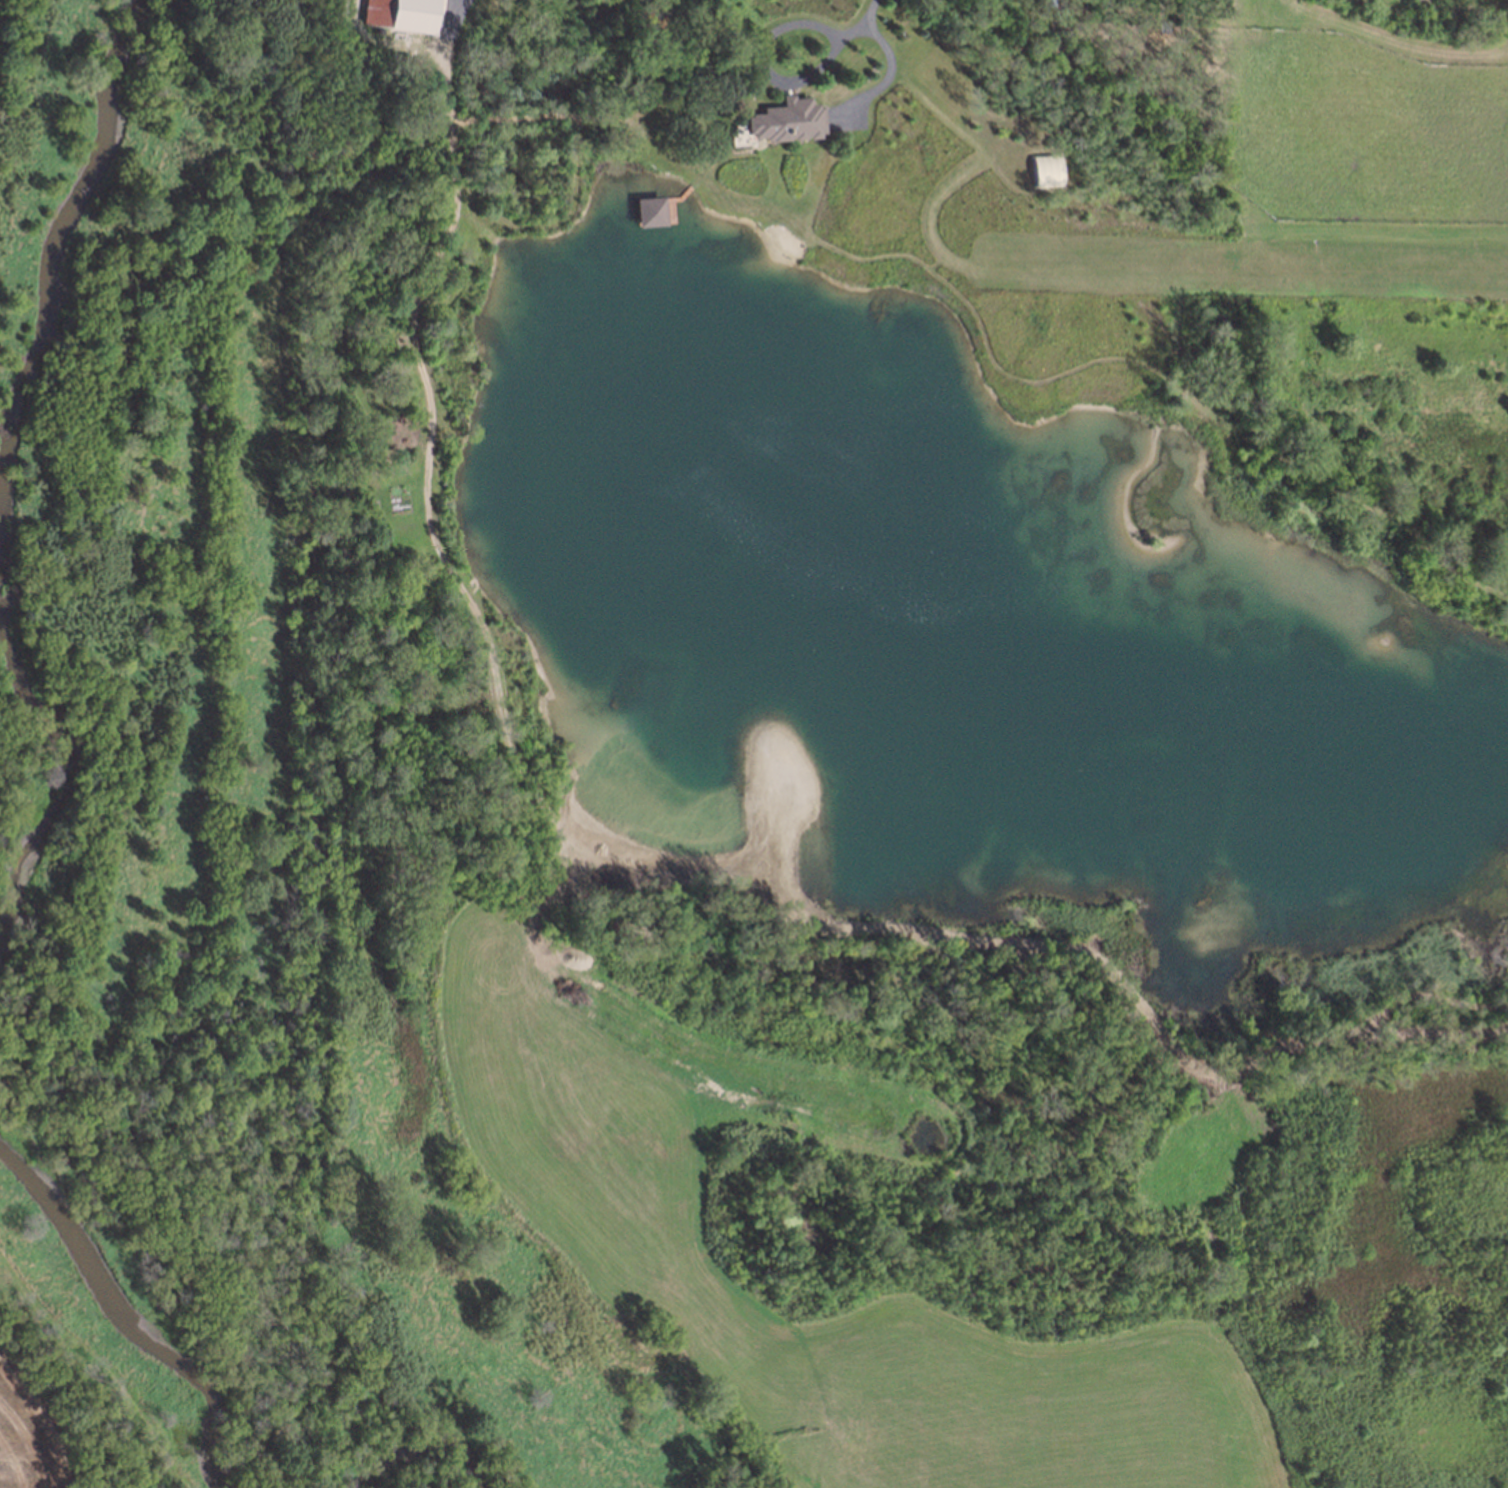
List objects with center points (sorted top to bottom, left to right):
building: (1047, 3)
building: (1071, 4)
building: (410, 16)
road: (865, 18)
building: (1157, 24)
road: (764, 63)
road: (886, 78)
building: (787, 118)
building: (1044, 168)
building: (655, 212)
river: (7, 477)
river: (136, 1286)
river: (424, 1470)

